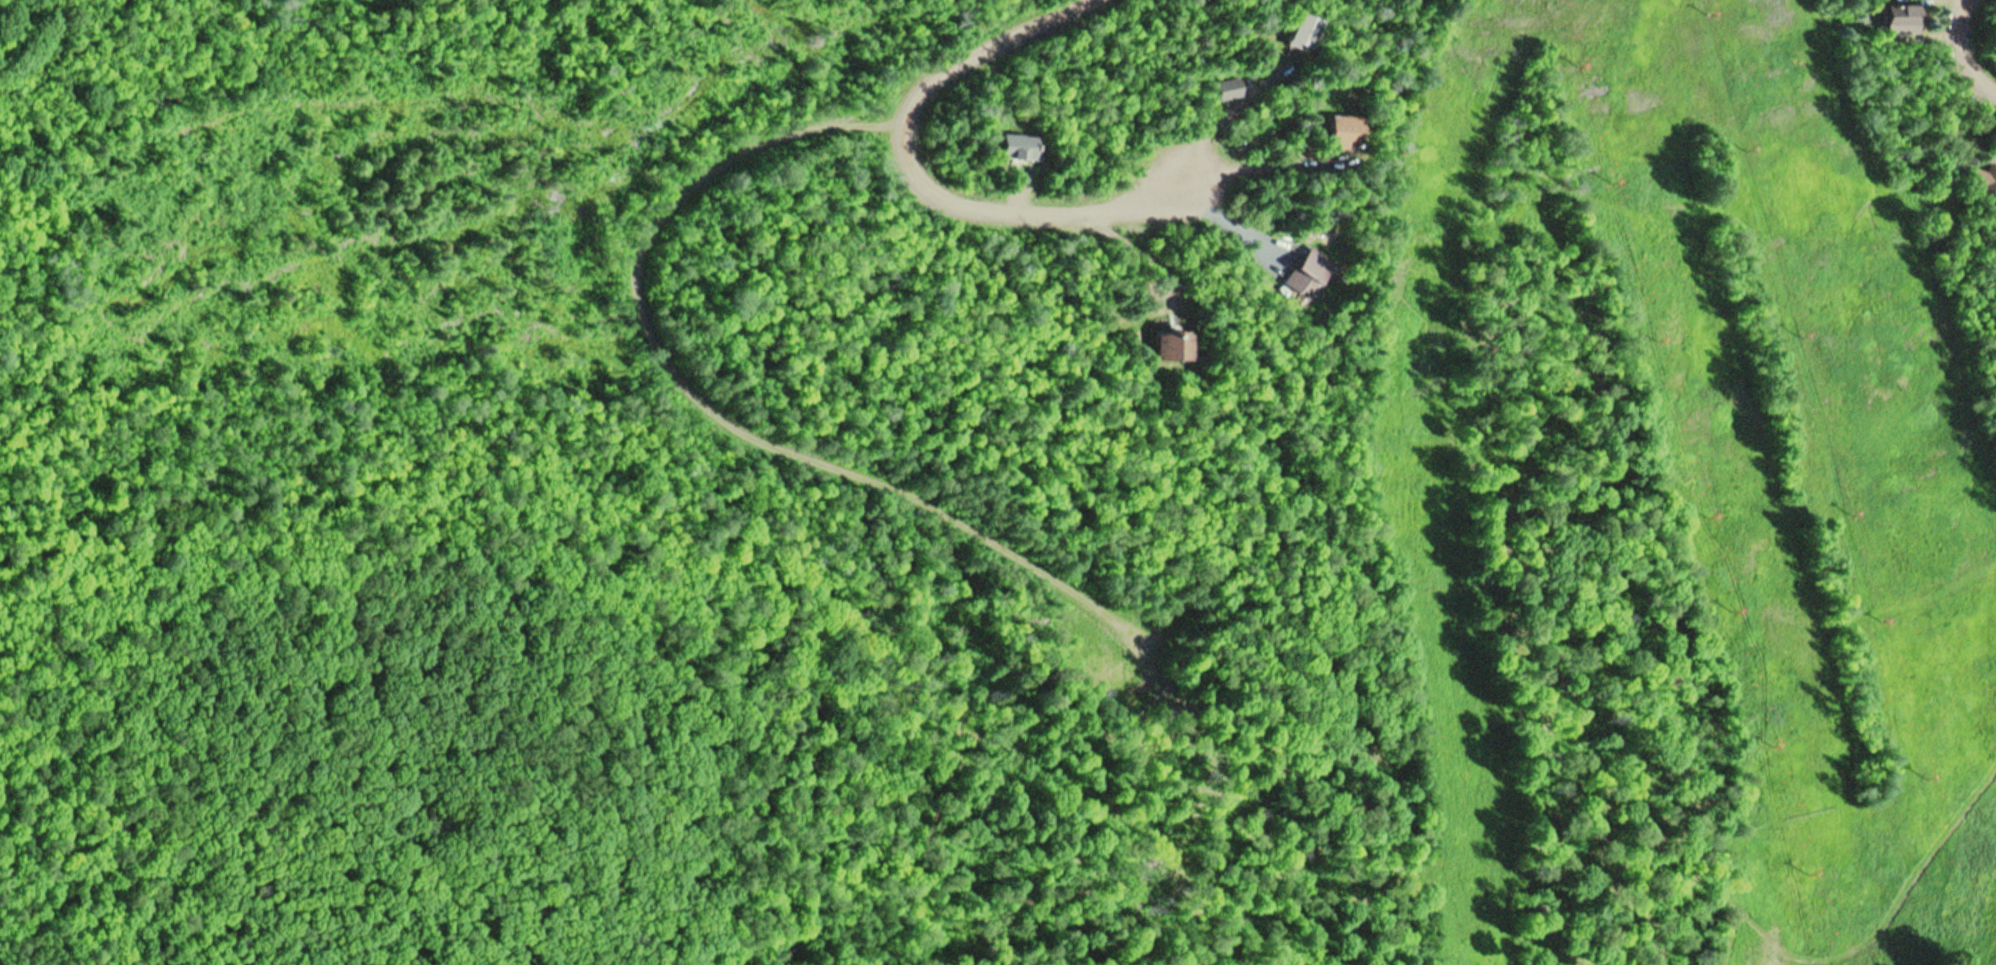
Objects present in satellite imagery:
aerialway pylon: (1708, 16)
building: (1899, 22)
building: (1299, 33)
road: (1963, 47)
aerialway pylon: (1580, 67)
building: (1341, 135)
aerialway pylon: (1746, 149)
building: (1016, 151)
road: (924, 176)
building: (1983, 181)
aerialway pylon: (1613, 182)
building: (1309, 273)
aerialway pylon: (1799, 337)
aerialway pylon: (1657, 338)
building: (1172, 346)
road: (697, 395)
ski resort: (1581, 488)
aerialway pylon: (1849, 512)
aerialway pylon: (1708, 515)
aerialway pylon: (1735, 609)
aerialway pylon: (1879, 617)
aerialway pylon: (1924, 773)

